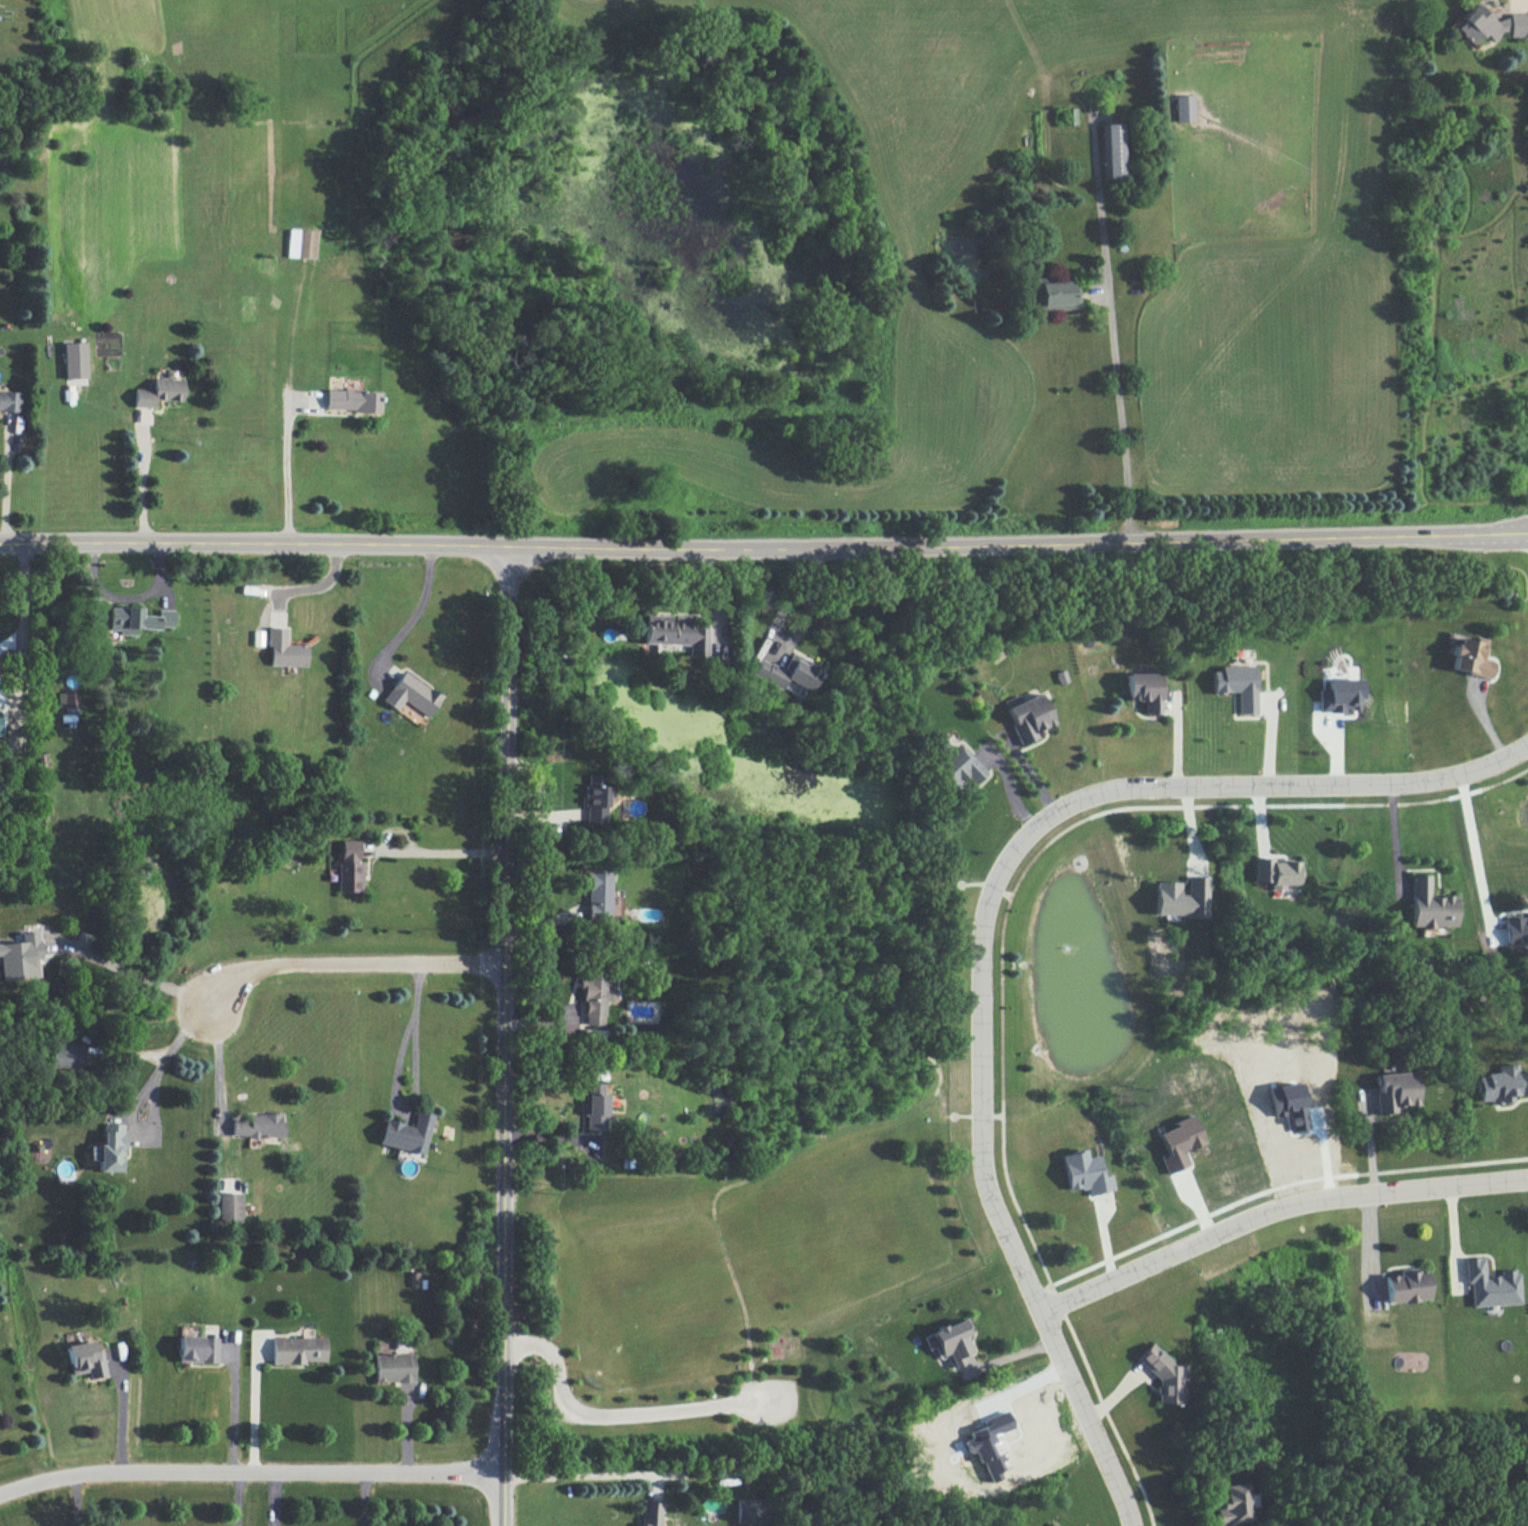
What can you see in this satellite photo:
road: (1520, 15)
building: (1491, 25)
building: (1182, 108)
building: (1111, 150)
building: (300, 243)
building: (1056, 295)
road: (1109, 328)
building: (74, 360)
building: (160, 389)
building: (9, 400)
building: (351, 400)
road: (288, 472)
road: (142, 486)
road: (6, 489)
road: (863, 543)
road: (99, 546)
road: (128, 595)
road: (22, 606)
road: (416, 615)
building: (137, 619)
building: (675, 632)
building: (257, 637)
building: (284, 649)
building: (1471, 657)
building: (788, 674)
building: (1237, 685)
building: (1143, 689)
building: (411, 694)
building: (1338, 695)
building: (67, 699)
building: (1027, 717)
building: (960, 766)
road: (1504, 777)
road: (1007, 784)
building: (594, 798)
road: (1393, 835)
road: (1472, 847)
road: (439, 851)
building: (349, 867)
building: (1276, 872)
road: (990, 887)
road: (1006, 894)
building: (598, 896)
building: (1181, 897)
building: (1430, 905)
road: (984, 928)
building: (1516, 930)
building: (19, 957)
road: (344, 964)
road: (128, 973)
building: (565, 1026)
road: (503, 1036)
road: (1001, 1041)
building: (65, 1055)
road: (930, 1055)
road: (165, 1061)
road: (792, 1066)
road: (219, 1072)
road: (396, 1078)
building: (1502, 1084)
building: (1394, 1091)
building: (1288, 1104)
building: (595, 1107)
road: (947, 1114)
road: (982, 1116)
road: (997, 1116)
building: (258, 1125)
building: (407, 1133)
building: (1178, 1143)
building: (111, 1148)
building: (1084, 1173)
park: (799, 1206)
building: (228, 1207)
road: (1276, 1209)
building: (1490, 1284)
building: (1405, 1287)
road: (1056, 1303)
park: (637, 1319)
building: (953, 1341)
building: (197, 1349)
building: (298, 1350)
road: (759, 1356)
building: (85, 1359)
building: (393, 1367)
building: (1161, 1375)
parking lot: (768, 1402)
road: (234, 1409)
road: (256, 1409)
road: (121, 1411)
road: (625, 1415)
building: (990, 1444)
road: (249, 1471)
road: (575, 1475)
road: (77, 1499)
road: (363, 1499)
building: (1231, 1505)
building: (750, 1510)
building: (649, 1513)
road: (1231, 1525)

